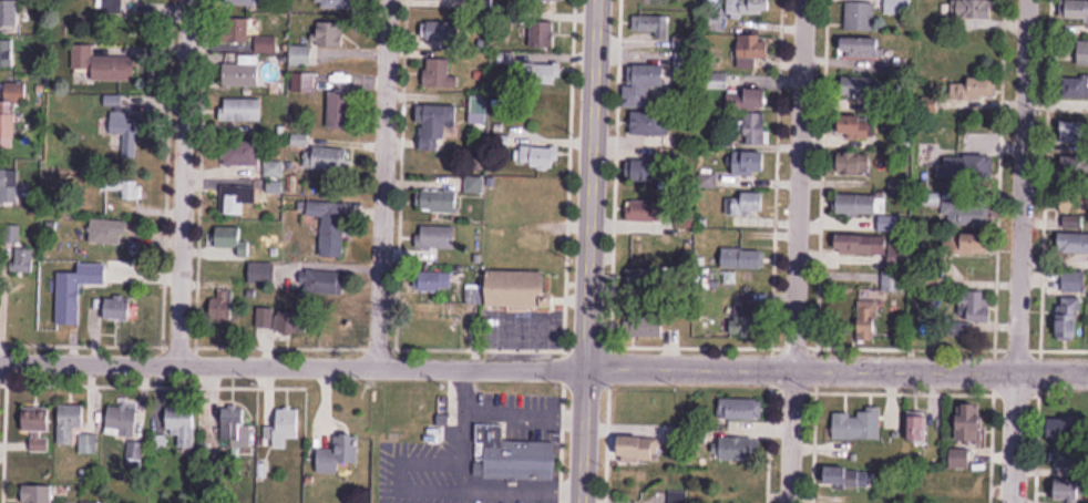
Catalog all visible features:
building: (544, 0)
building: (244, 2)
building: (336, 3)
building: (111, 6)
building: (749, 7)
building: (897, 7)
building: (973, 9)
building: (1076, 10)
building: (9, 16)
building: (859, 16)
building: (715, 21)
building: (649, 23)
building: (329, 31)
building: (442, 31)
building: (248, 34)
building: (545, 35)
building: (860, 48)
building: (752, 51)
building: (7, 53)
building: (1082, 53)
building: (300, 54)
building: (102, 64)
building: (240, 72)
building: (442, 72)
building: (546, 74)
building: (301, 81)
building: (643, 83)
building: (860, 85)
building: (1075, 86)
building: (974, 88)
building: (748, 100)
building: (242, 110)
building: (339, 110)
building: (478, 110)
building: (11, 112)
building: (650, 124)
building: (434, 125)
building: (856, 127)
building: (756, 129)
building: (126, 133)
building: (1078, 148)
building: (239, 153)
building: (540, 157)
building: (329, 158)
building: (751, 164)
building: (855, 164)
building: (963, 168)
building: (646, 173)
road: (181, 177)
road: (382, 179)
building: (239, 196)
building: (440, 202)
building: (745, 208)
building: (644, 211)
building: (870, 211)
building: (966, 212)
building: (328, 224)
building: (1074, 234)
building: (439, 237)
building: (105, 238)
building: (228, 238)
building: (968, 246)
building: (876, 249)
road: (588, 250)
road: (1015, 250)
road: (797, 251)
building: (743, 259)
building: (258, 266)
building: (646, 279)
building: (438, 280)
building: (892, 281)
building: (1072, 283)
building: (320, 285)
building: (519, 289)
building: (76, 290)
building: (975, 307)
building: (117, 310)
building: (1069, 318)
building: (747, 320)
building: (868, 320)
building: (645, 325)
road: (544, 361)
building: (740, 409)
building: (35, 420)
building: (121, 421)
building: (69, 422)
building: (969, 422)
building: (181, 424)
building: (856, 425)
building: (235, 427)
building: (915, 427)
building: (1068, 427)
building: (284, 428)
building: (680, 434)
building: (639, 449)
building: (740, 450)
building: (133, 454)
building: (339, 454)
building: (1070, 458)
building: (958, 459)
building: (521, 460)
building: (845, 476)
building: (1068, 491)
building: (37, 493)
building: (676, 496)
building: (89, 502)

